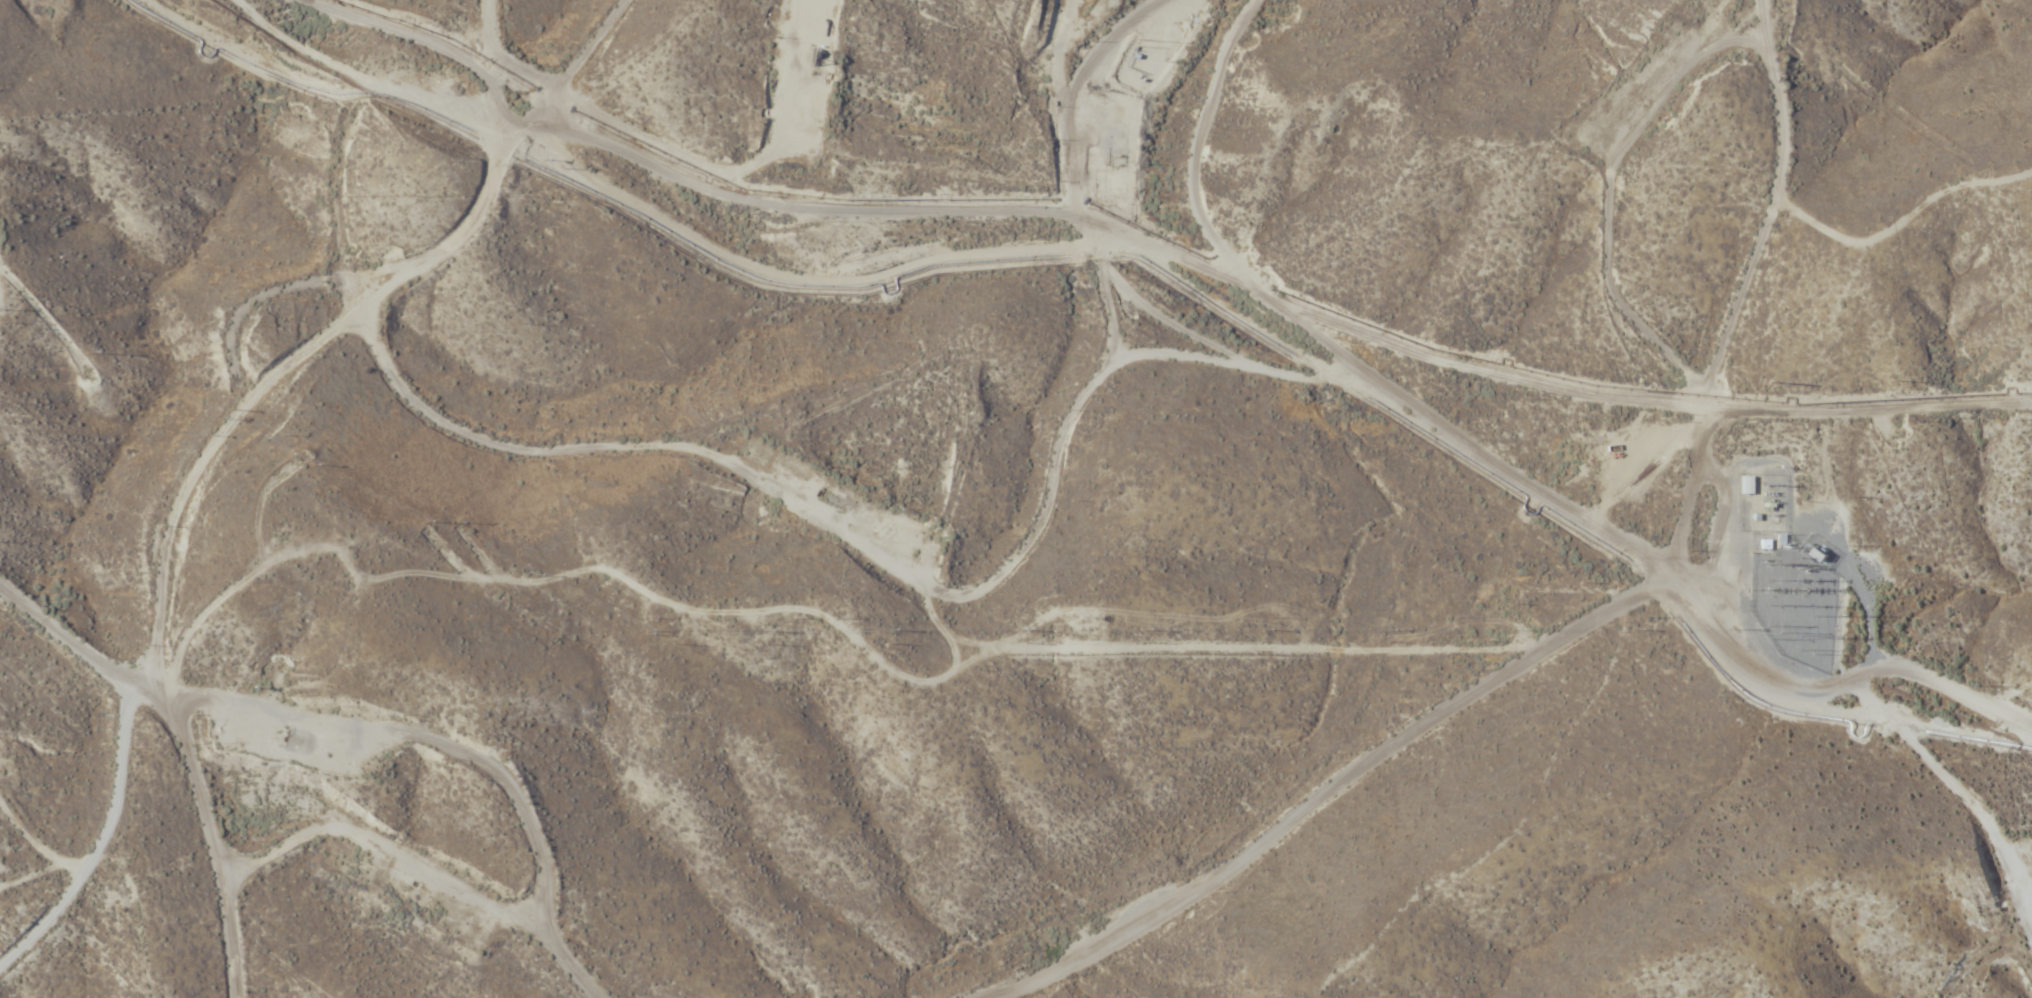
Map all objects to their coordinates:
road: (1366, 385)
road: (235, 399)
road: (1638, 549)
power substation: (1792, 576)
road: (907, 689)
road: (1310, 767)

